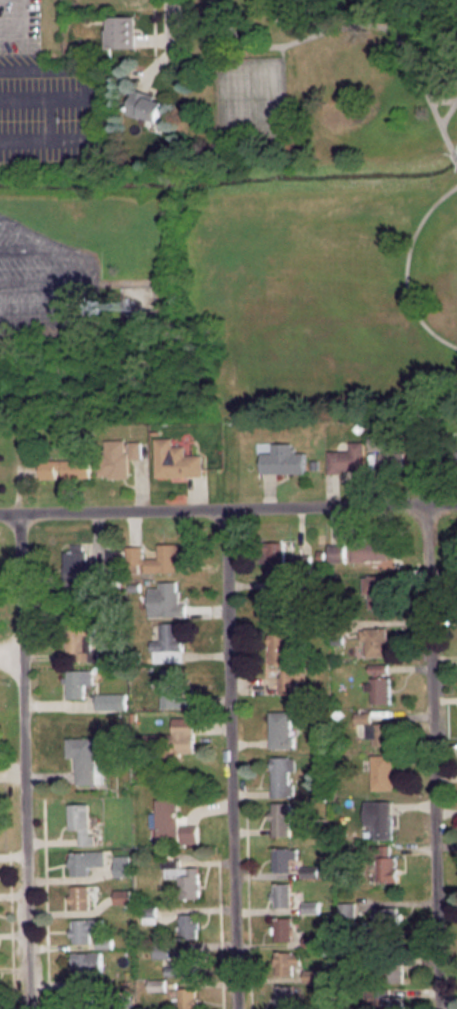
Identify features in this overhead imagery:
road: (169, 27)
building: (119, 32)
road: (309, 36)
road: (424, 93)
park: (248, 95)
road: (440, 99)
building: (144, 105)
road: (447, 110)
park: (318, 209)
road: (405, 268)
parking lot: (45, 283)
building: (376, 441)
building: (134, 449)
building: (114, 458)
building: (175, 458)
building: (346, 458)
building: (281, 459)
building: (456, 459)
building: (391, 461)
building: (65, 468)
road: (228, 507)
building: (335, 552)
building: (370, 552)
building: (272, 556)
building: (113, 557)
building: (154, 558)
building: (75, 567)
building: (272, 590)
building: (375, 590)
building: (163, 600)
building: (374, 641)
building: (78, 644)
building: (166, 644)
building: (283, 660)
building: (377, 668)
building: (76, 682)
building: (169, 686)
building: (378, 690)
building: (110, 701)
building: (362, 717)
building: (278, 727)
building: (378, 733)
building: (181, 734)
road: (433, 755)
building: (84, 757)
road: (230, 758)
road: (25, 760)
building: (381, 770)
building: (280, 772)
building: (167, 816)
building: (382, 817)
building: (80, 820)
building: (280, 821)
building: (189, 832)
building: (281, 857)
building: (85, 861)
building: (387, 861)
building: (122, 865)
building: (311, 871)
building: (191, 884)
building: (281, 892)
building: (79, 896)
building: (122, 896)
building: (310, 907)
building: (346, 910)
building: (386, 916)
building: (188, 923)
building: (283, 926)
building: (83, 929)
building: (310, 941)
building: (160, 950)
building: (286, 962)
building: (182, 964)
building: (86, 970)
building: (393, 973)
building: (311, 975)
building: (156, 985)
building: (284, 997)
building: (185, 998)
building: (387, 1002)
building: (82, 1007)

